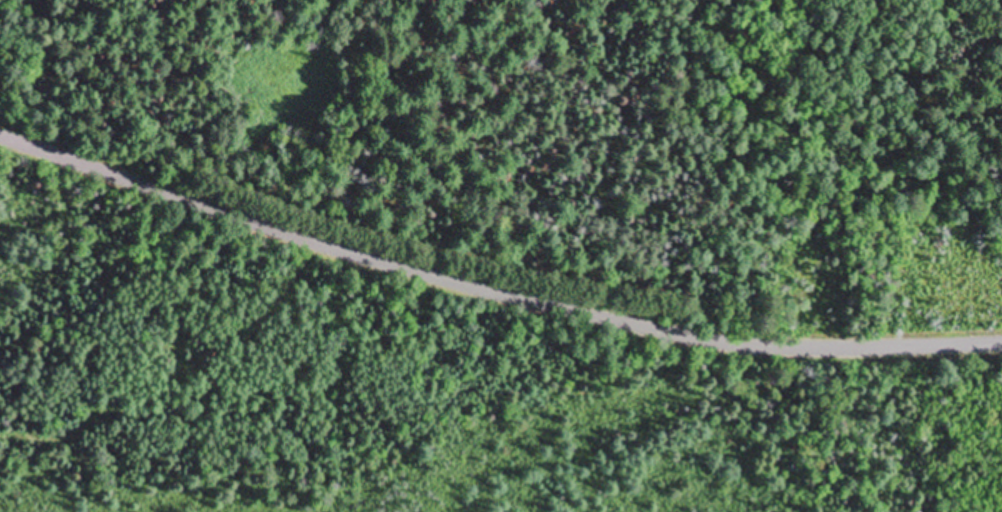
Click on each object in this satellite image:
road: (493, 287)

